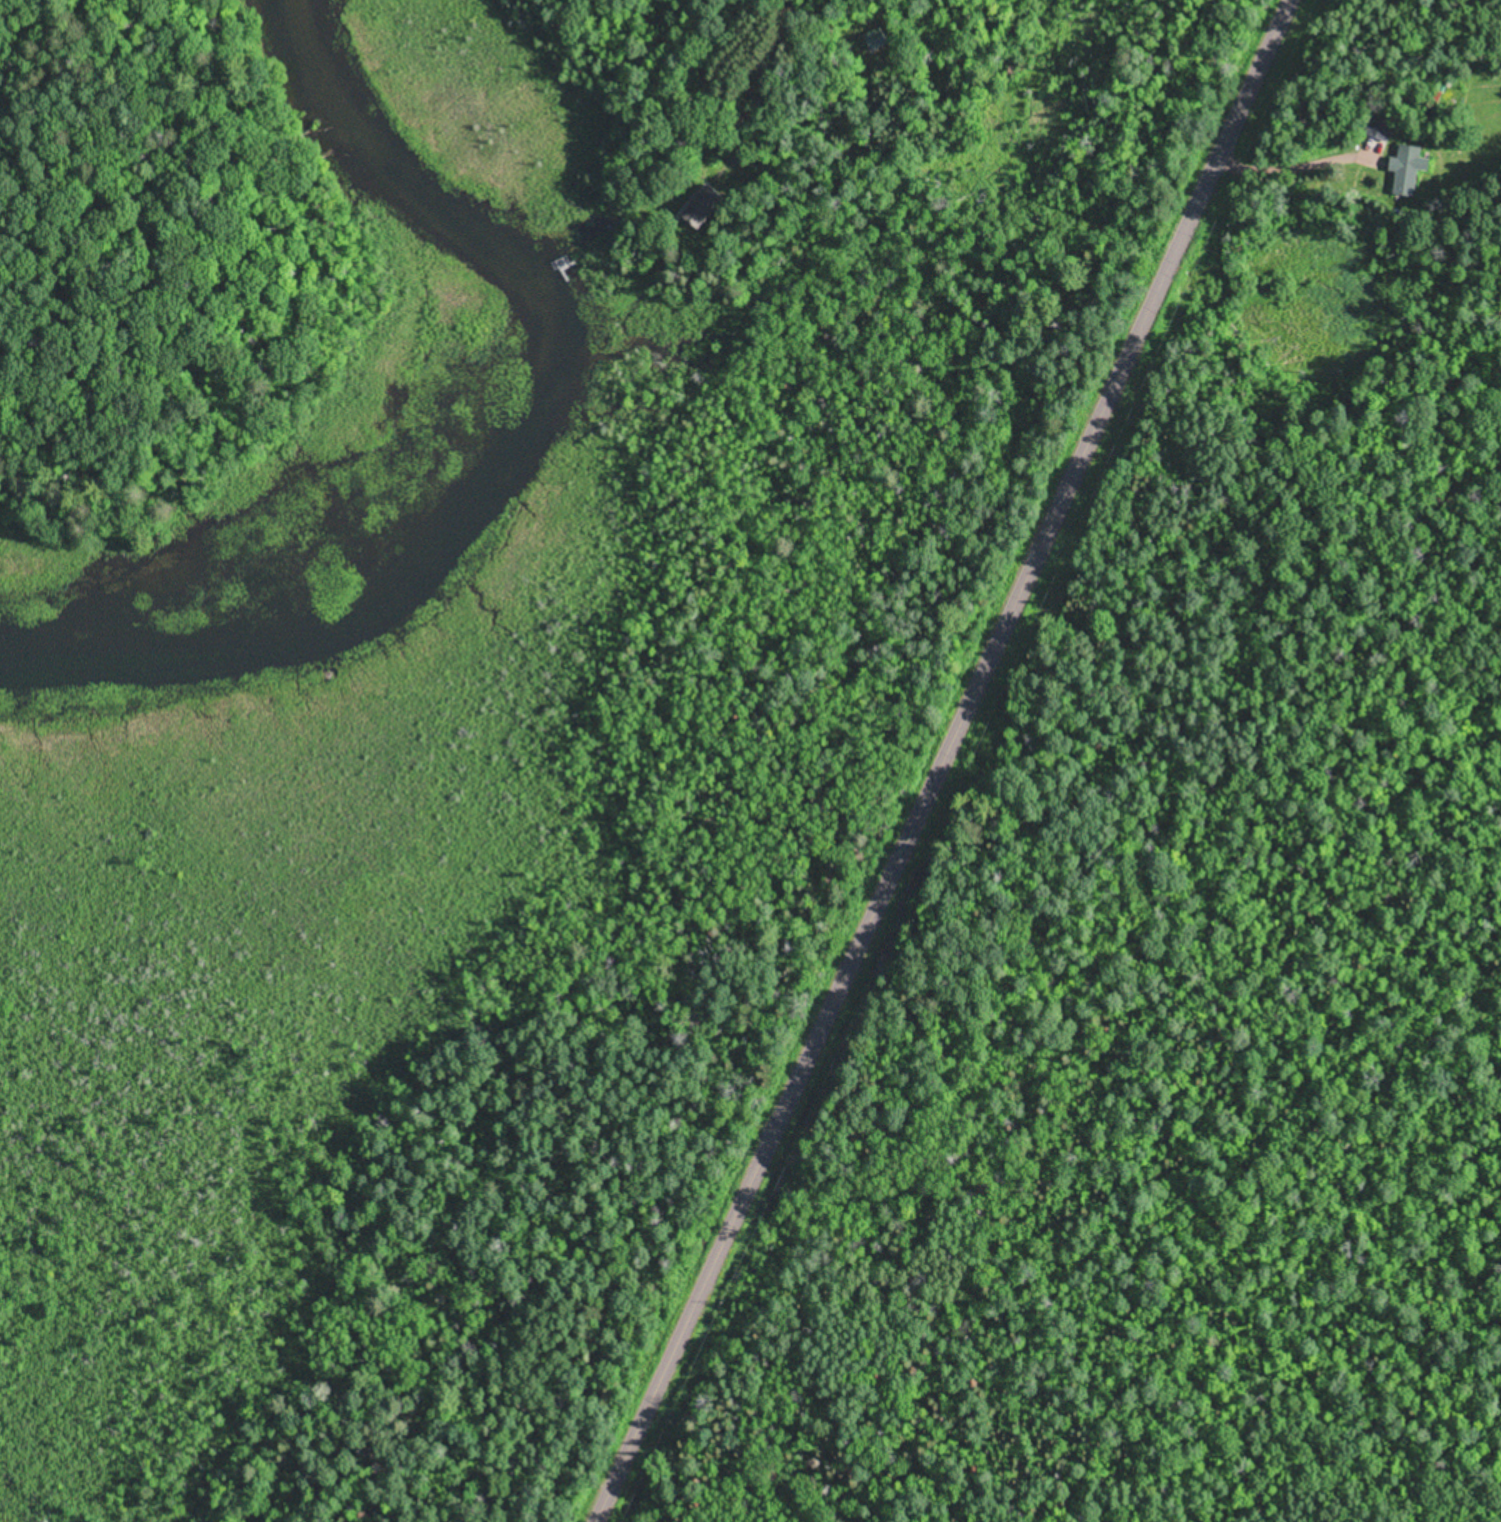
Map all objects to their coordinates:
building: (1383, 125)
building: (1412, 167)
building: (709, 202)
river: (499, 457)
road: (944, 761)

